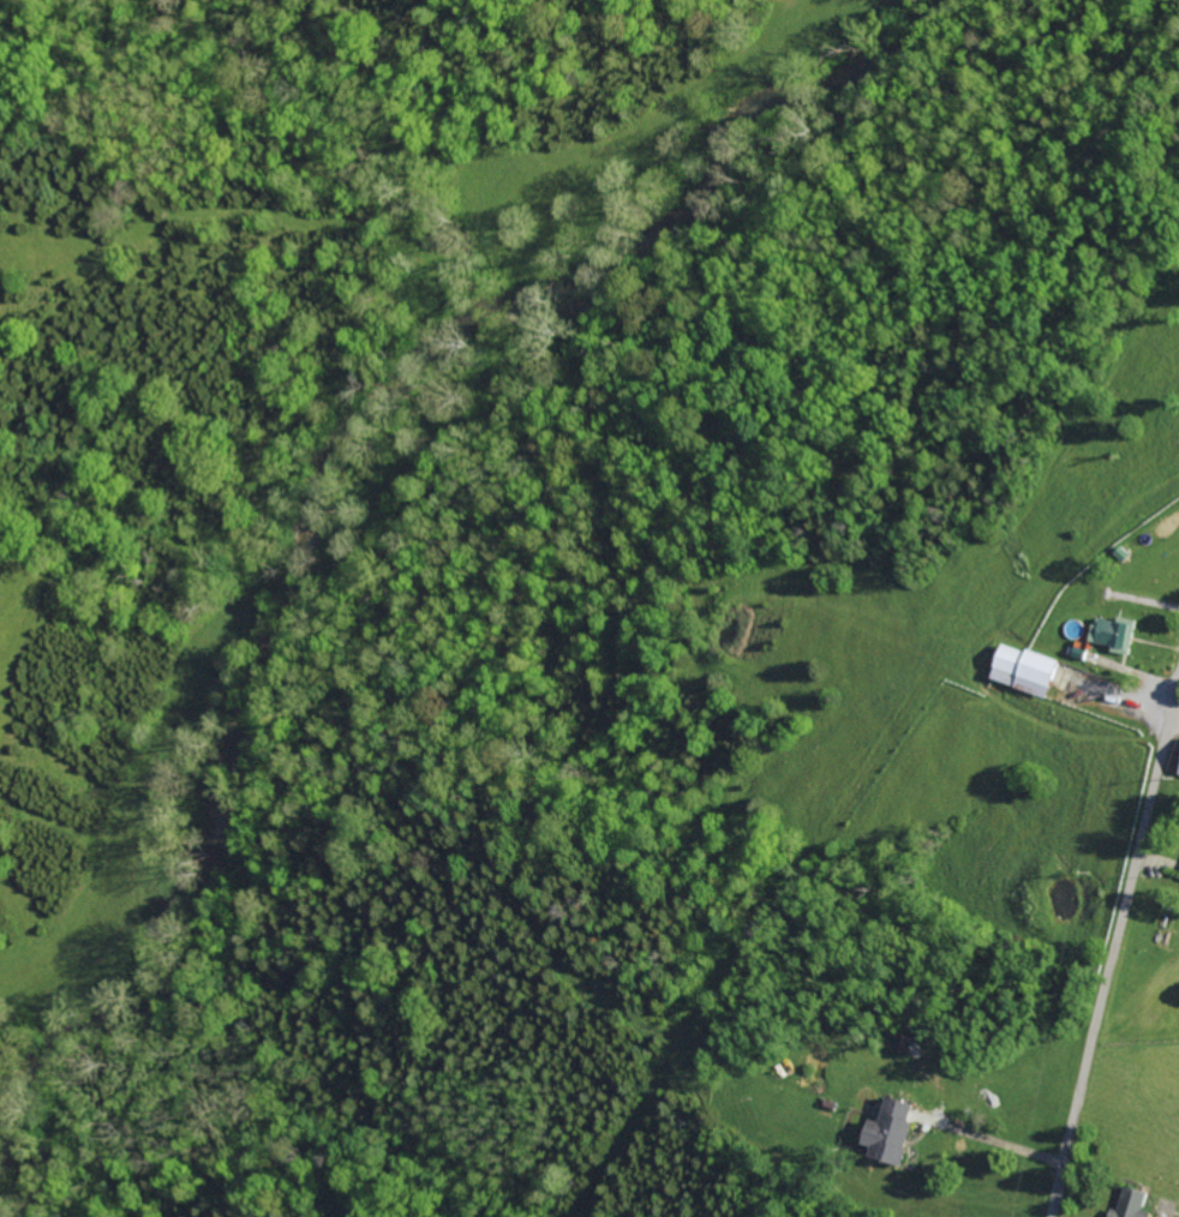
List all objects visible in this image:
building: (1118, 634)
building: (1028, 671)
road: (1123, 696)
road: (1178, 713)
road: (1115, 959)
building: (893, 1133)
road: (994, 1138)
building: (1136, 1204)

